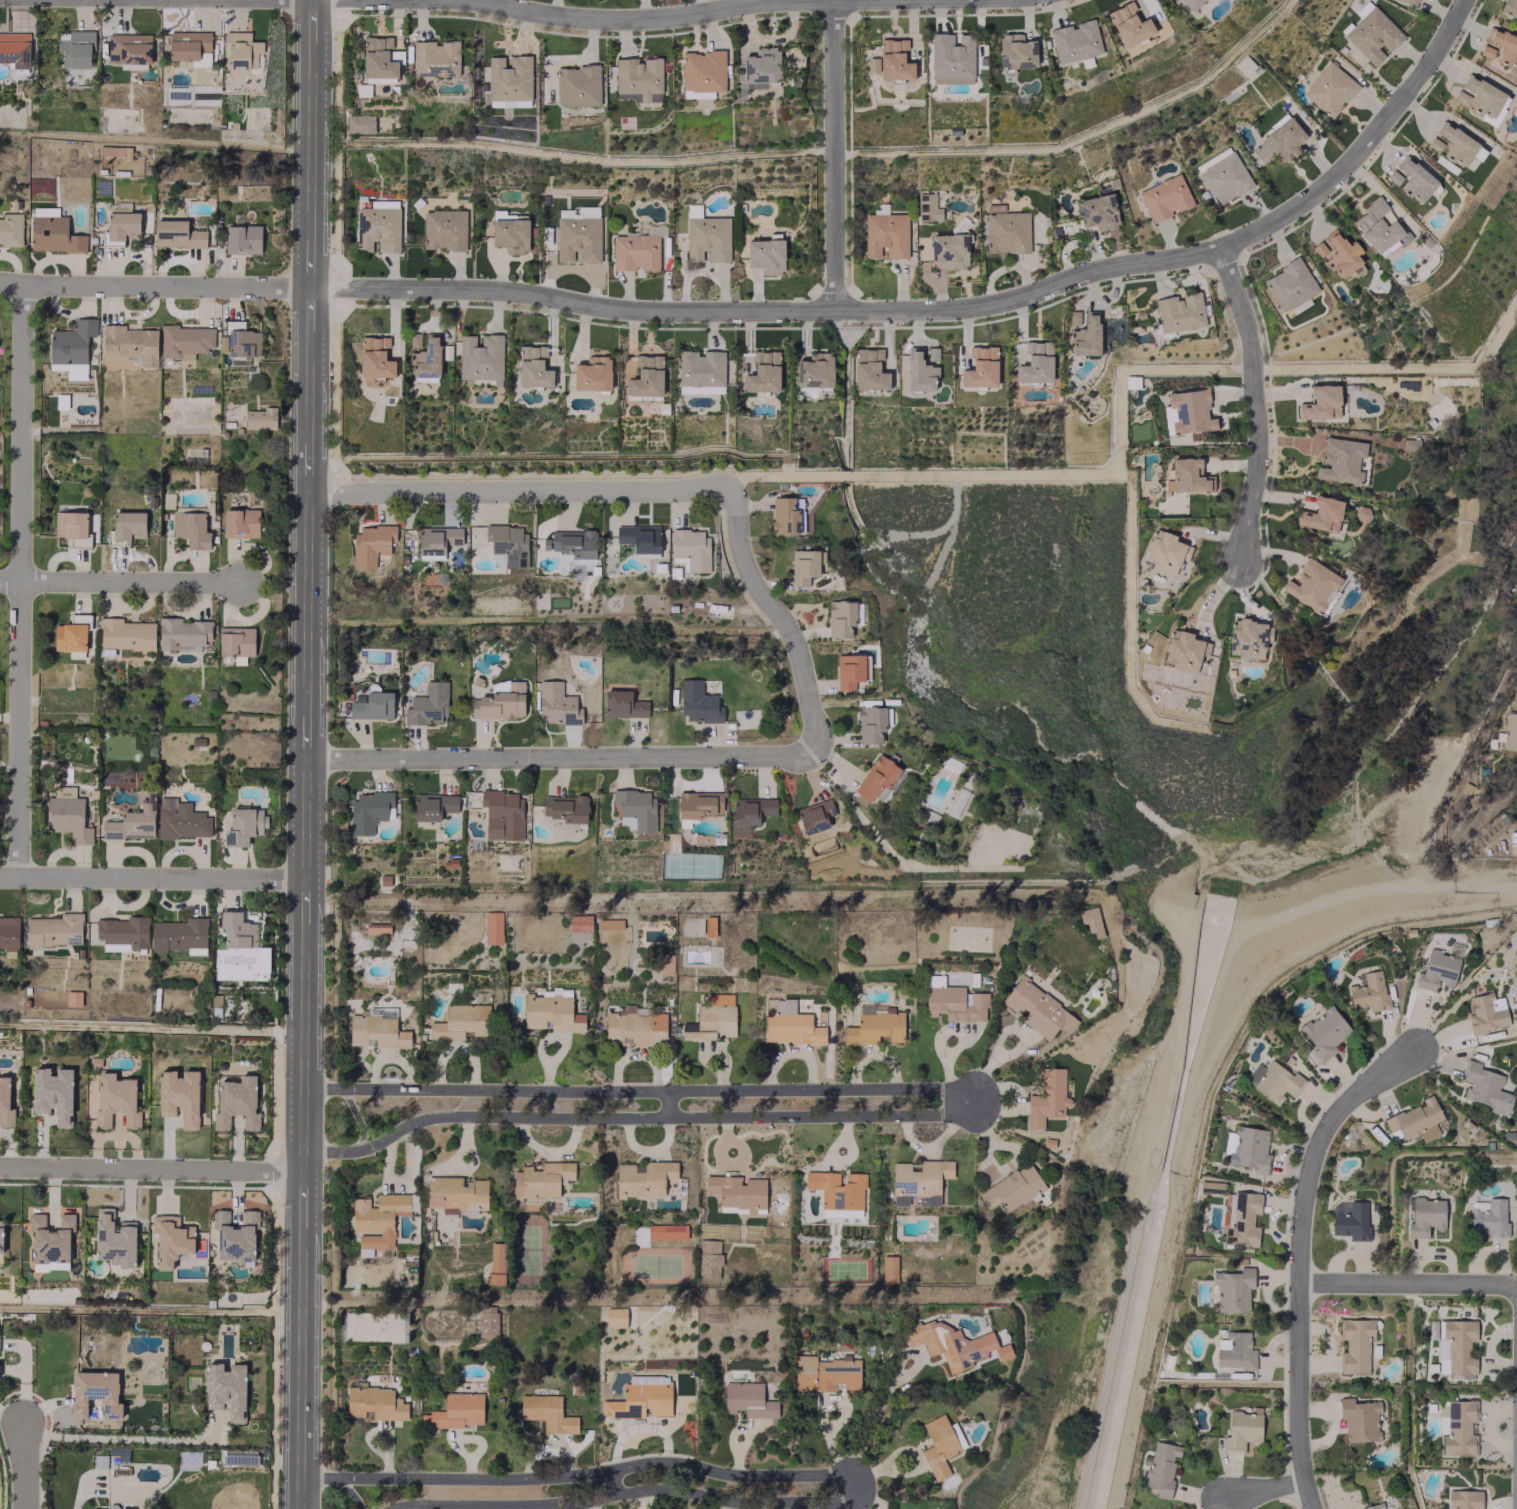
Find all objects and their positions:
building: (1409, 1)
building: (1191, 3)
building: (1509, 8)
road: (621, 17)
building: (1129, 24)
building: (1372, 35)
building: (1075, 41)
building: (187, 44)
building: (1503, 46)
building: (76, 48)
building: (128, 48)
building: (15, 49)
building: (241, 50)
building: (1016, 51)
building: (1486, 51)
building: (378, 58)
building: (435, 58)
building: (951, 58)
building: (201, 59)
building: (894, 59)
building: (874, 64)
building: (1243, 65)
building: (761, 67)
building: (702, 73)
building: (639, 77)
building: (509, 78)
building: (577, 85)
building: (1329, 89)
building: (1480, 96)
building: (509, 103)
building: (359, 123)
building: (1279, 142)
building: (1434, 143)
road: (1363, 145)
building: (1459, 145)
road: (835, 153)
building: (1213, 157)
building: (1393, 177)
building: (1224, 178)
building: (1415, 179)
building: (1164, 197)
building: (927, 207)
building: (1098, 211)
building: (121, 227)
building: (10, 228)
building: (377, 228)
building: (1378, 228)
building: (443, 229)
building: (1006, 230)
building: (52, 231)
building: (177, 234)
building: (510, 234)
building: (885, 234)
building: (578, 238)
building: (707, 238)
building: (242, 239)
building: (949, 250)
building: (635, 252)
building: (1338, 253)
building: (765, 255)
building: (1289, 285)
road: (613, 306)
building: (1179, 312)
building: (1074, 317)
building: (1086, 335)
building: (414, 339)
building: (185, 340)
building: (128, 347)
building: (72, 348)
building: (932, 353)
building: (426, 357)
building: (481, 358)
building: (375, 359)
building: (1036, 363)
building: (533, 367)
building: (980, 367)
building: (869, 369)
building: (814, 370)
building: (700, 371)
building: (919, 371)
building: (763, 372)
building: (592, 373)
building: (646, 376)
road: (1253, 401)
building: (1320, 402)
building: (260, 418)
building: (1340, 459)
building: (1190, 475)
road: (521, 490)
building: (1321, 514)
building: (785, 516)
building: (240, 523)
road: (945, 524)
building: (128, 525)
building: (72, 527)
building: (190, 529)
building: (639, 537)
building: (437, 539)
building: (574, 543)
building: (371, 544)
building: (507, 544)
building: (691, 548)
building: (1165, 551)
building: (805, 565)
road: (22, 578)
road: (121, 579)
building: (1311, 585)
building: (842, 617)
road: (780, 619)
building: (182, 632)
building: (72, 634)
building: (126, 634)
building: (1249, 638)
building: (236, 640)
building: (1184, 650)
building: (848, 671)
building: (499, 702)
building: (698, 703)
building: (427, 704)
building: (557, 704)
building: (623, 704)
building: (372, 706)
building: (870, 724)
building: (1509, 731)
road: (305, 754)
road: (561, 756)
building: (875, 780)
building: (699, 804)
building: (433, 806)
building: (566, 808)
building: (637, 808)
building: (368, 810)
building: (749, 813)
building: (502, 814)
building: (67, 815)
building: (815, 817)
building: (133, 819)
building: (180, 819)
building: (243, 825)
road: (152, 874)
building: (1091, 920)
building: (579, 922)
building: (609, 923)
building: (709, 926)
building: (492, 927)
building: (377, 928)
building: (55, 930)
building: (9, 933)
building: (123, 933)
building: (180, 935)
building: (666, 963)
building: (1437, 969)
building: (1369, 992)
building: (73, 998)
building: (954, 1003)
building: (1037, 1008)
building: (551, 1012)
building: (1485, 1014)
building: (711, 1018)
building: (461, 1022)
building: (789, 1023)
building: (634, 1027)
building: (875, 1027)
building: (377, 1030)
building: (1323, 1033)
building: (1277, 1082)
road: (326, 1087)
road: (1194, 1088)
building: (1485, 1088)
building: (53, 1093)
building: (179, 1096)
road: (978, 1097)
building: (1046, 1097)
building: (115, 1100)
road: (667, 1101)
building: (5, 1103)
building: (236, 1103)
road: (357, 1117)
building: (1415, 1120)
building: (1246, 1148)
road: (336, 1151)
road: (151, 1166)
building: (644, 1178)
building: (542, 1179)
building: (919, 1181)
building: (1208, 1186)
building: (837, 1189)
building: (1014, 1190)
building: (737, 1191)
building: (456, 1194)
building: (1424, 1216)
building: (1489, 1217)
building: (1242, 1218)
road: (1136, 1219)
building: (1350, 1219)
building: (377, 1220)
building: (666, 1231)
building: (234, 1235)
building: (1, 1236)
building: (114, 1239)
building: (171, 1239)
road: (1298, 1255)
building: (709, 1259)
building: (496, 1263)
building: (888, 1269)
road: (1406, 1283)
building: (1233, 1289)
building: (615, 1317)
building: (487, 1324)
building: (954, 1344)
building: (1355, 1344)
building: (1459, 1345)
building: (1235, 1351)
building: (826, 1373)
building: (226, 1389)
building: (95, 1393)
building: (641, 1397)
building: (747, 1399)
building: (374, 1403)
building: (455, 1411)
building: (547, 1413)
road: (874, 1413)
building: (1359, 1419)
building: (1457, 1426)
road: (124, 1437)
building: (938, 1445)
road: (1516, 1461)
road: (22, 1464)
building: (1161, 1467)
road: (851, 1476)
road: (325, 1478)
road: (610, 1482)
road: (1263, 1486)
road: (349, 1492)
building: (1463, 1499)
building: (1373, 1506)
building: (111, 1508)

